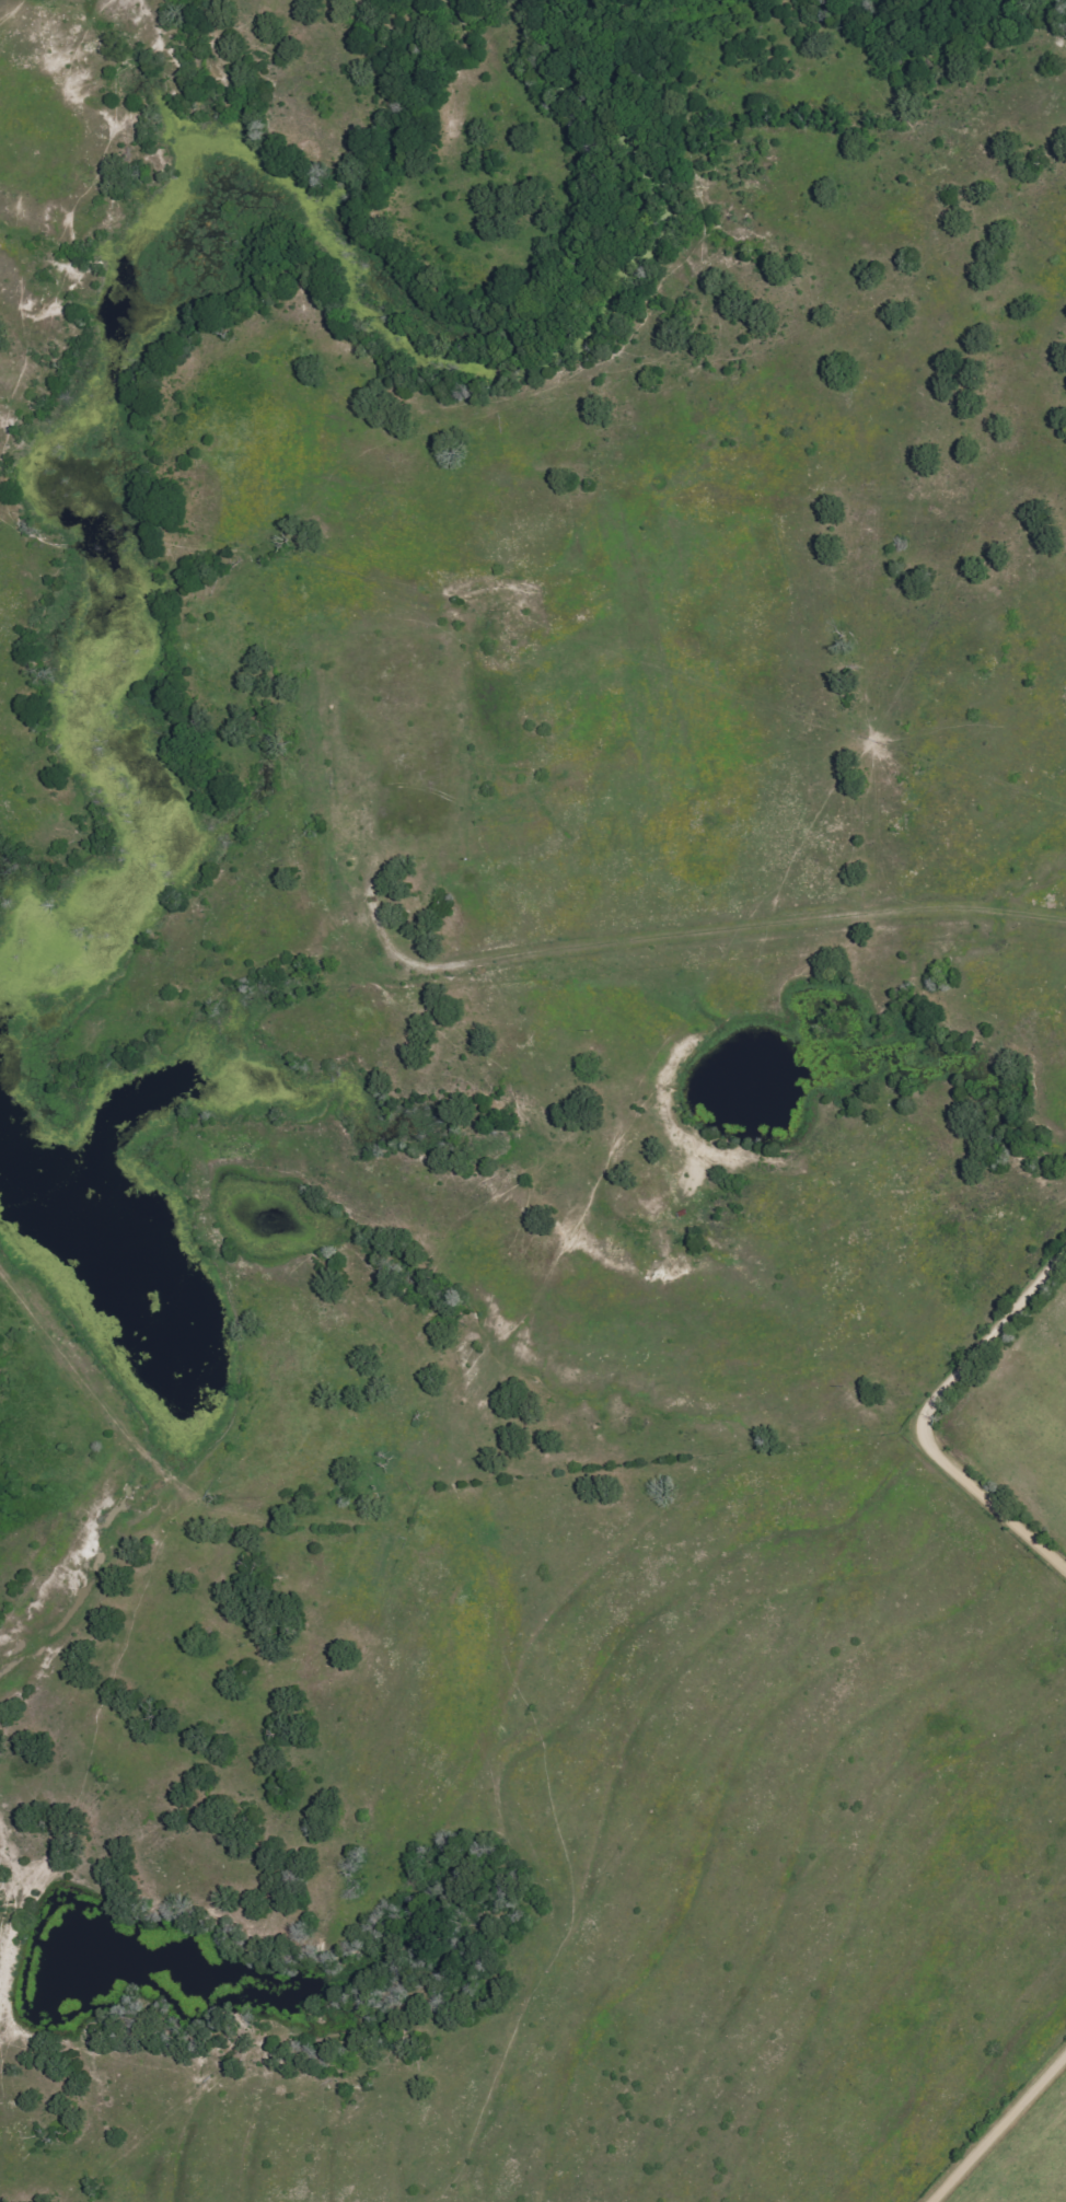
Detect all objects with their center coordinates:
road: (927, 1410)
road: (707, 1473)
road: (997, 2125)

